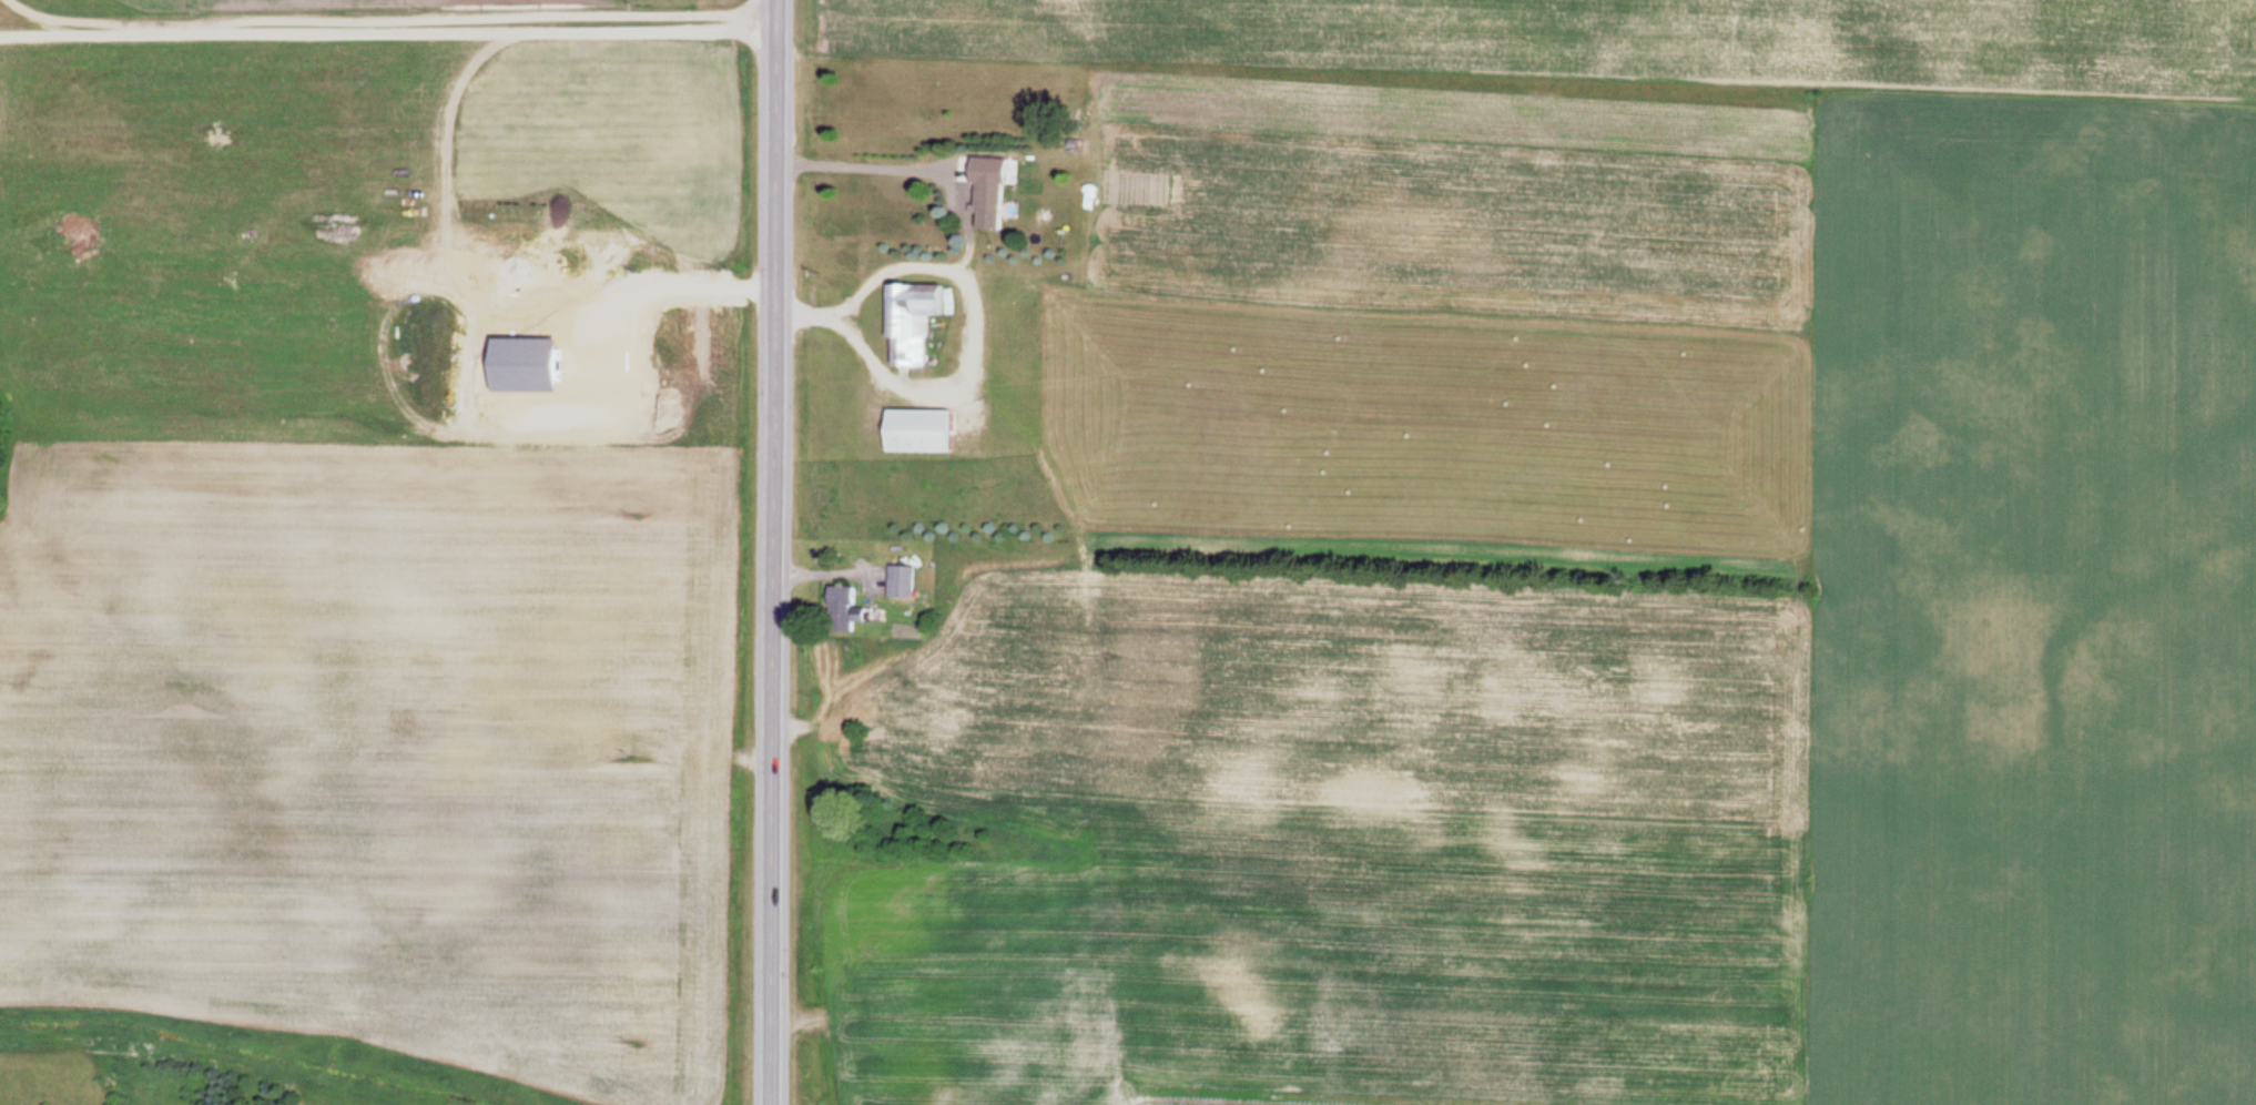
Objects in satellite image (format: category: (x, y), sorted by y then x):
building: (984, 204)
building: (908, 322)
building: (919, 426)
road: (770, 552)
building: (842, 608)

